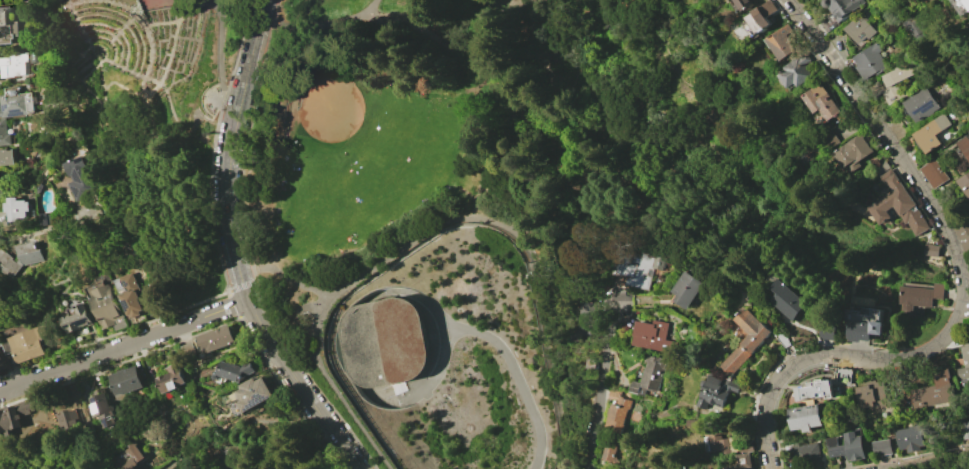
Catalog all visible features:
road: (108, 0)
building: (957, 0)
park: (154, 4)
building: (742, 4)
building: (965, 4)
road: (209, 5)
road: (261, 5)
building: (841, 8)
building: (761, 15)
road: (397, 16)
road: (331, 17)
road: (132, 20)
building: (4, 25)
road: (127, 25)
road: (413, 26)
road: (523, 26)
building: (860, 26)
building: (911, 27)
road: (164, 30)
road: (155, 31)
road: (121, 32)
road: (191, 33)
road: (115, 36)
road: (159, 37)
road: (174, 37)
road: (195, 37)
road: (110, 41)
road: (169, 41)
road: (560, 42)
building: (781, 42)
road: (183, 43)
road: (585, 43)
road: (155, 45)
road: (175, 47)
road: (199, 48)
road: (221, 53)
road: (105, 54)
road: (161, 55)
road: (308, 56)
road: (81, 59)
road: (678, 61)
building: (869, 61)
building: (14, 66)
road: (165, 69)
road: (633, 69)
building: (796, 71)
road: (79, 74)
road: (166, 76)
road: (176, 77)
road: (83, 78)
building: (893, 80)
road: (847, 82)
road: (581, 94)
road: (609, 95)
road: (510, 98)
road: (206, 101)
building: (821, 101)
building: (16, 103)
building: (919, 104)
rooftop solar panel: (923, 110)
road: (178, 112)
road: (114, 117)
road: (580, 117)
road: (152, 120)
park: (152, 121)
road: (575, 123)
road: (653, 127)
road: (516, 130)
road: (568, 130)
building: (968, 131)
building: (3, 132)
building: (931, 132)
park: (498, 140)
road: (214, 143)
building: (964, 146)
building: (859, 147)
road: (139, 151)
building: (6, 156)
road: (654, 157)
park: (361, 161)
road: (182, 163)
road: (154, 168)
building: (934, 173)
building: (80, 178)
road: (182, 178)
road: (602, 178)
road: (686, 179)
building: (964, 183)
road: (147, 187)
road: (751, 191)
road: (159, 195)
road: (563, 195)
building: (899, 204)
building: (16, 208)
road: (641, 213)
road: (46, 225)
road: (944, 226)
road: (521, 229)
road: (190, 230)
building: (963, 236)
road: (235, 250)
building: (931, 250)
road: (248, 251)
building: (20, 256)
building: (638, 268)
road: (287, 276)
road: (243, 286)
road: (349, 287)
building: (686, 289)
building: (133, 295)
building: (917, 297)
building: (787, 299)
building: (108, 306)
building: (78, 319)
building: (587, 321)
rooftop solar panel: (86, 330)
building: (864, 330)
road: (204, 331)
building: (828, 331)
road: (115, 333)
rooftop solar panel: (72, 335)
building: (653, 336)
building: (215, 339)
building: (746, 340)
road: (827, 341)
building: (384, 343)
storage tank: (384, 343)
building: (28, 345)
road: (499, 345)
road: (124, 347)
road: (827, 349)
road: (911, 358)
building: (963, 364)
building: (1, 365)
building: (235, 371)
building: (651, 373)
road: (435, 375)
building: (172, 378)
building: (127, 380)
road: (759, 384)
road: (602, 387)
building: (716, 389)
building: (815, 390)
building: (933, 390)
building: (254, 393)
road: (767, 394)
building: (872, 394)
building: (105, 406)
rooftop solar panel: (263, 406)
building: (26, 407)
rooftop solar panel: (100, 408)
building: (617, 414)
building: (805, 417)
rooftop solar panel: (102, 418)
building: (68, 420)
road: (769, 420)
building: (7, 424)
rooftop solar panel: (112, 430)
building: (964, 430)
building: (909, 438)
rooftop solar panel: (832, 441)
building: (735, 444)
road: (777, 444)
building: (847, 446)
building: (881, 447)
building: (608, 450)
building: (806, 456)
building: (134, 459)
road: (933, 460)
building: (743, 462)
building: (672, 468)

